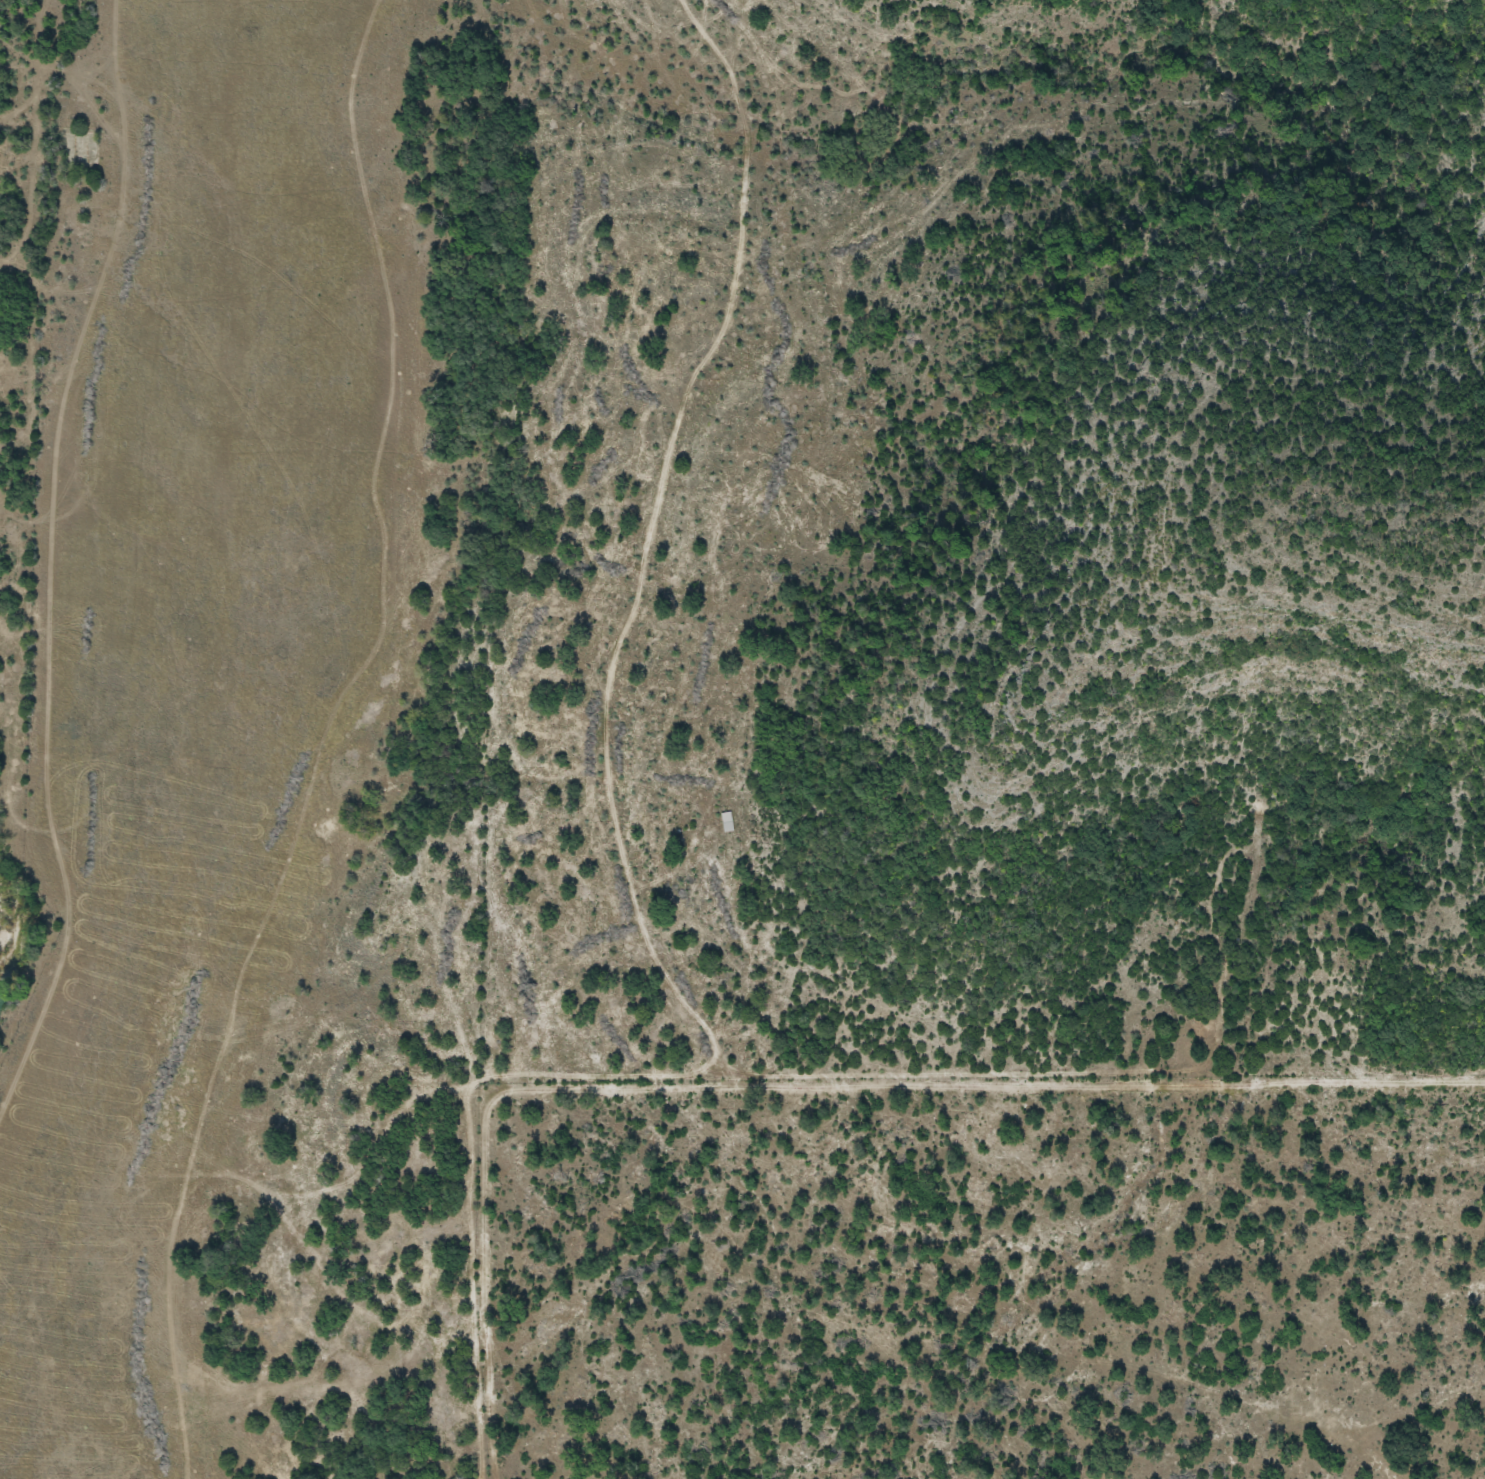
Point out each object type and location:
building: (727, 821)
river: (11, 921)

